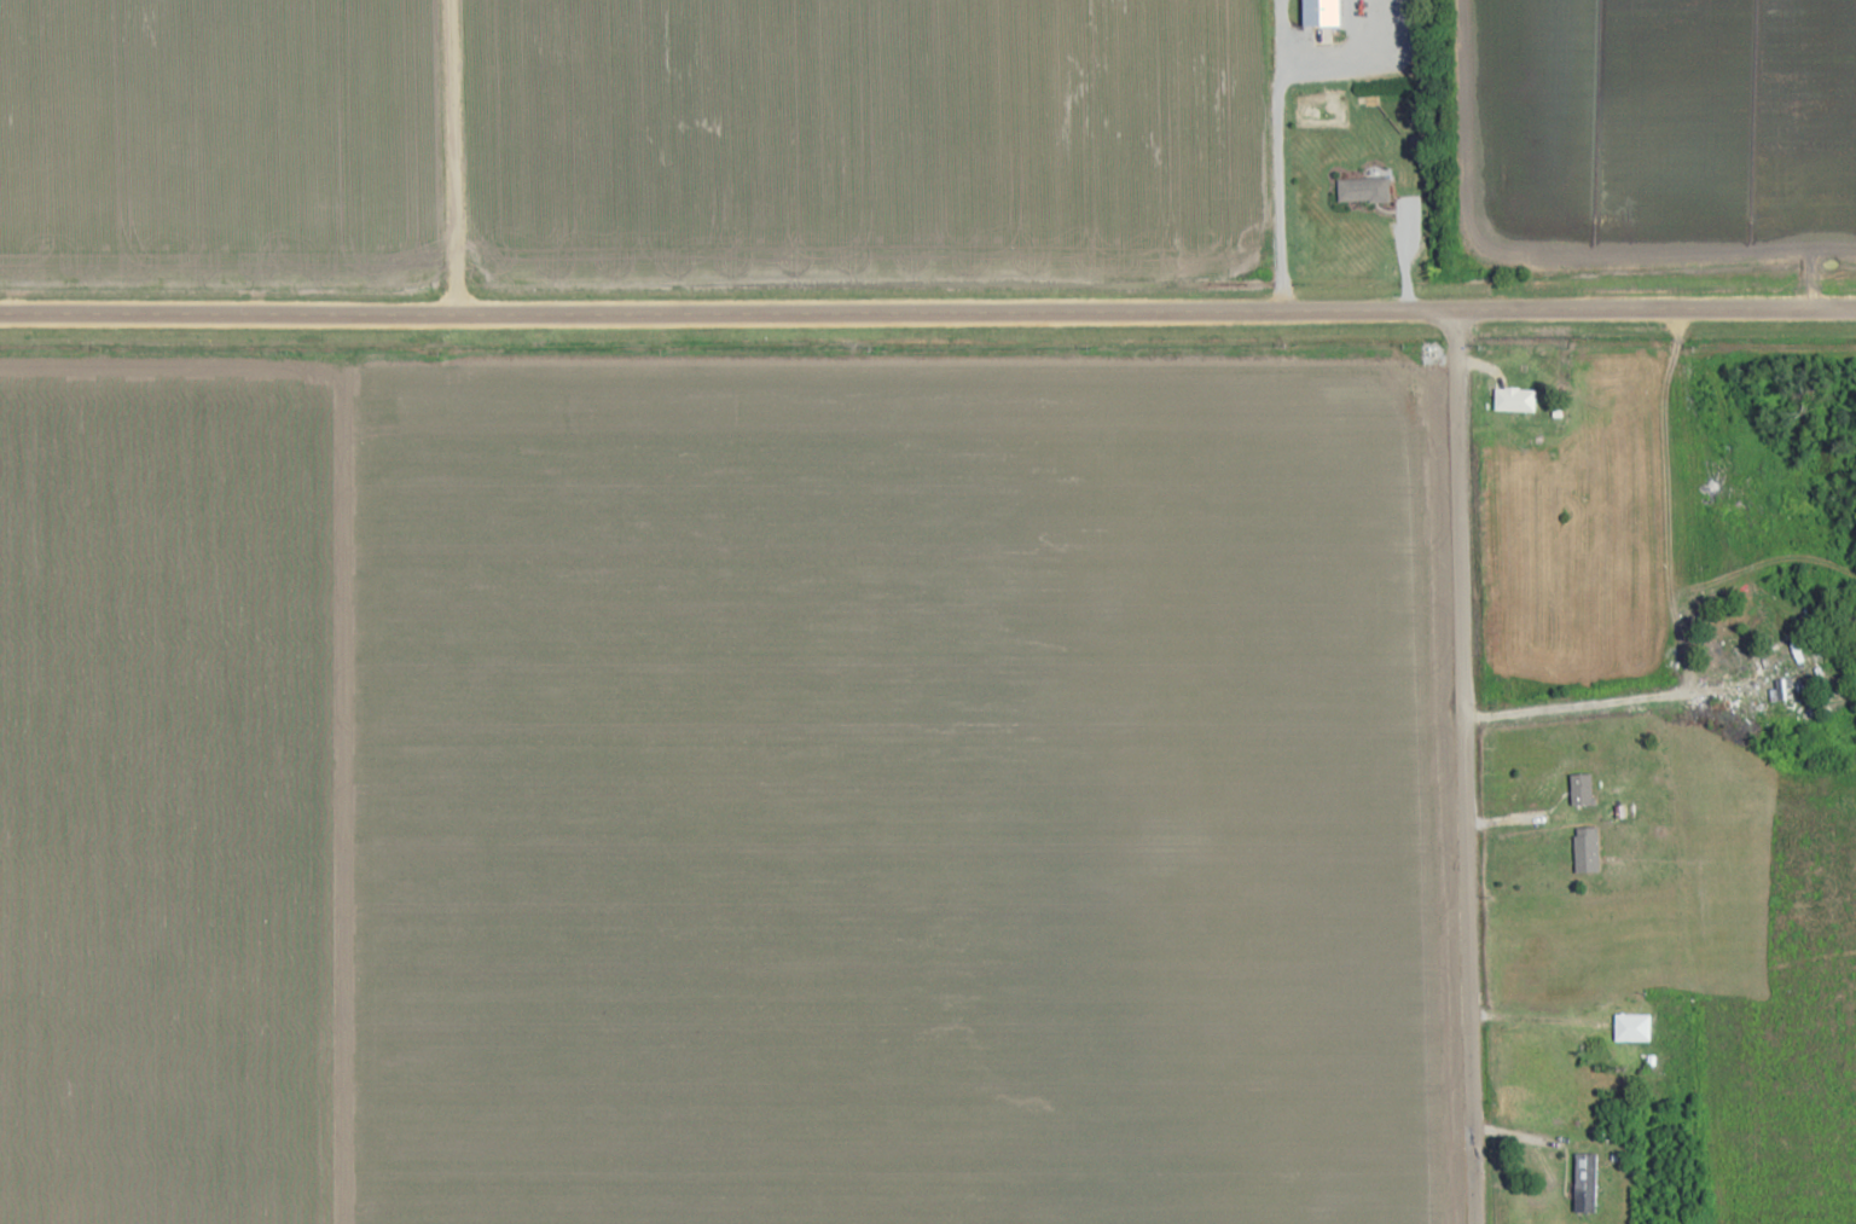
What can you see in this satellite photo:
building: (1321, 13)
road: (453, 155)
building: (1363, 191)
road: (928, 311)
building: (1515, 400)
road: (1661, 689)
building: (1777, 695)
road: (1467, 766)
building: (1583, 790)
building: (1587, 849)
road: (1547, 1021)
building: (1632, 1028)
building: (1587, 1184)

